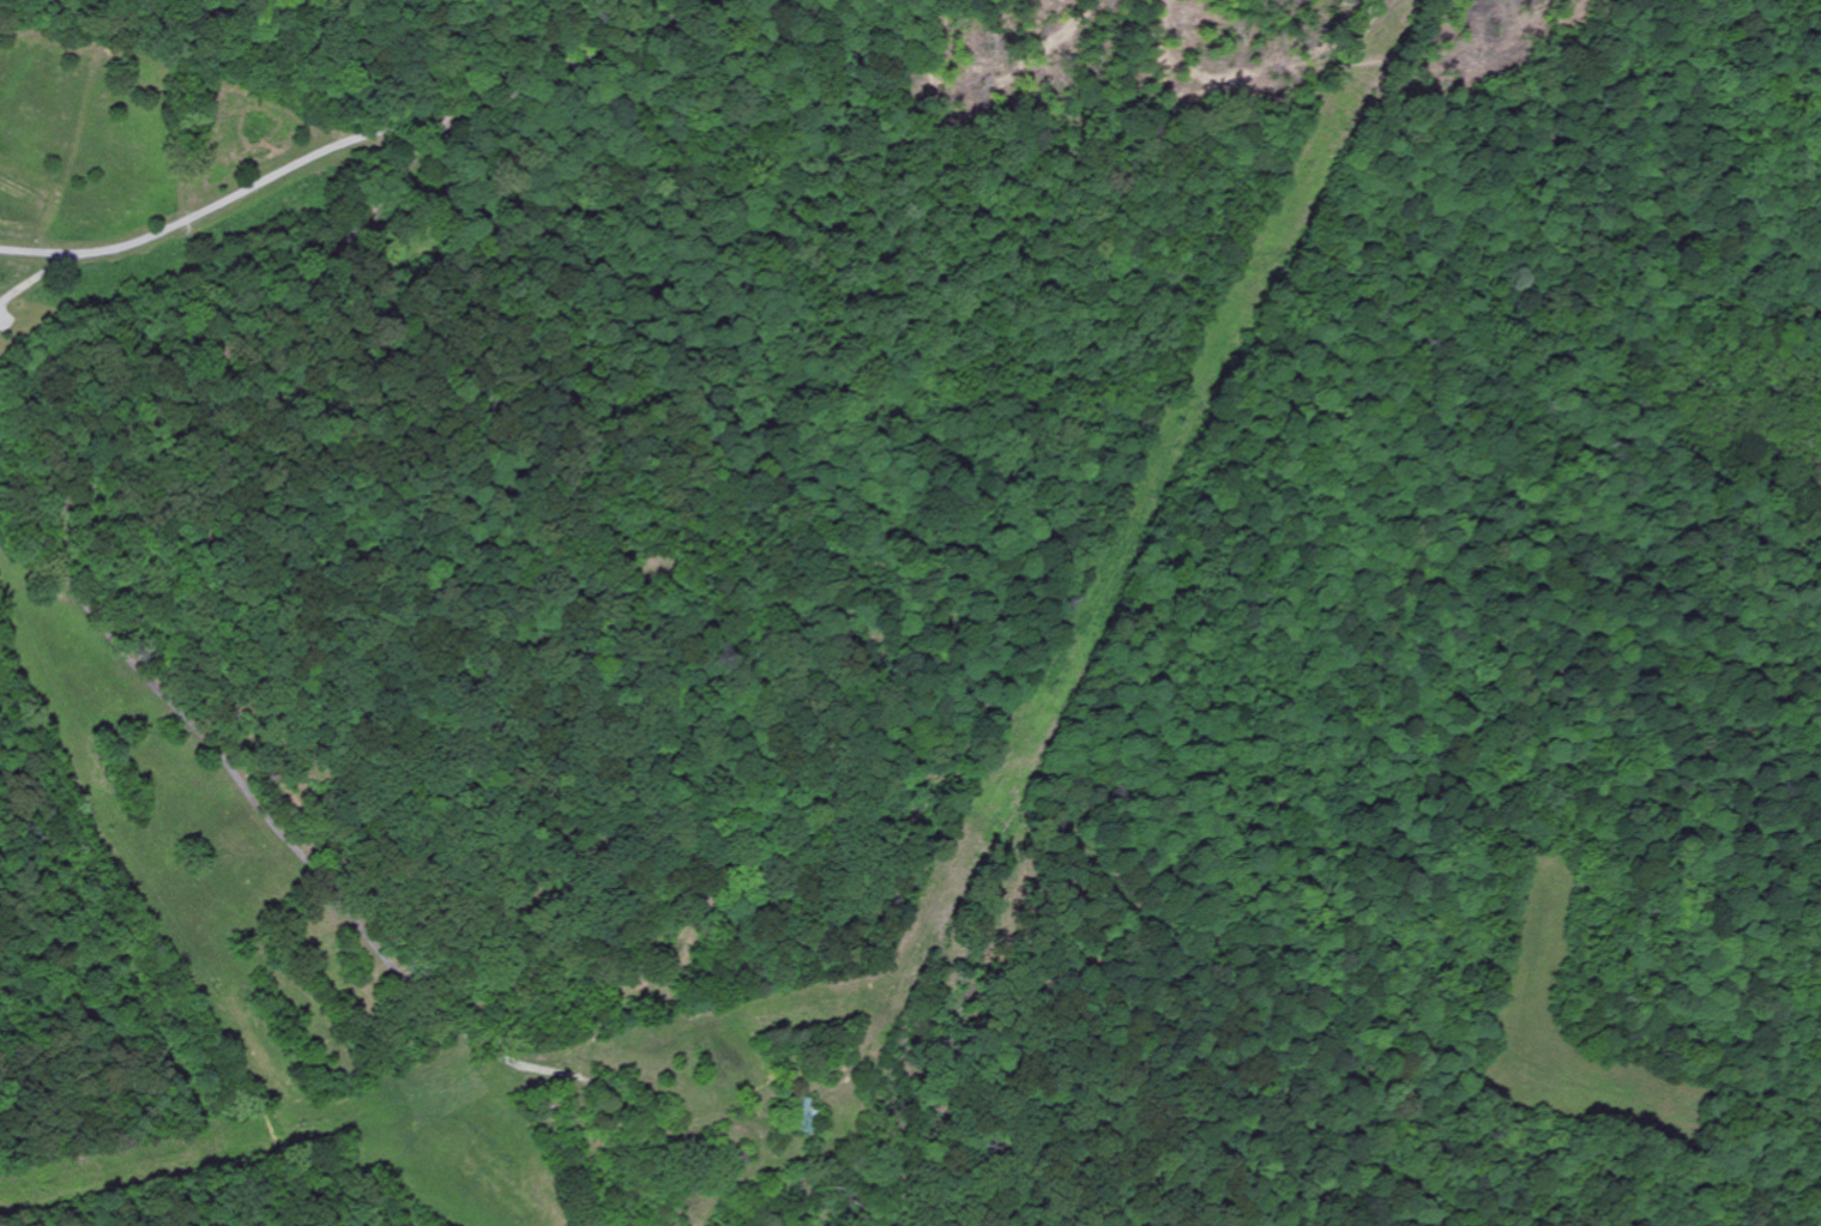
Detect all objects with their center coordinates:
road: (50, 502)

